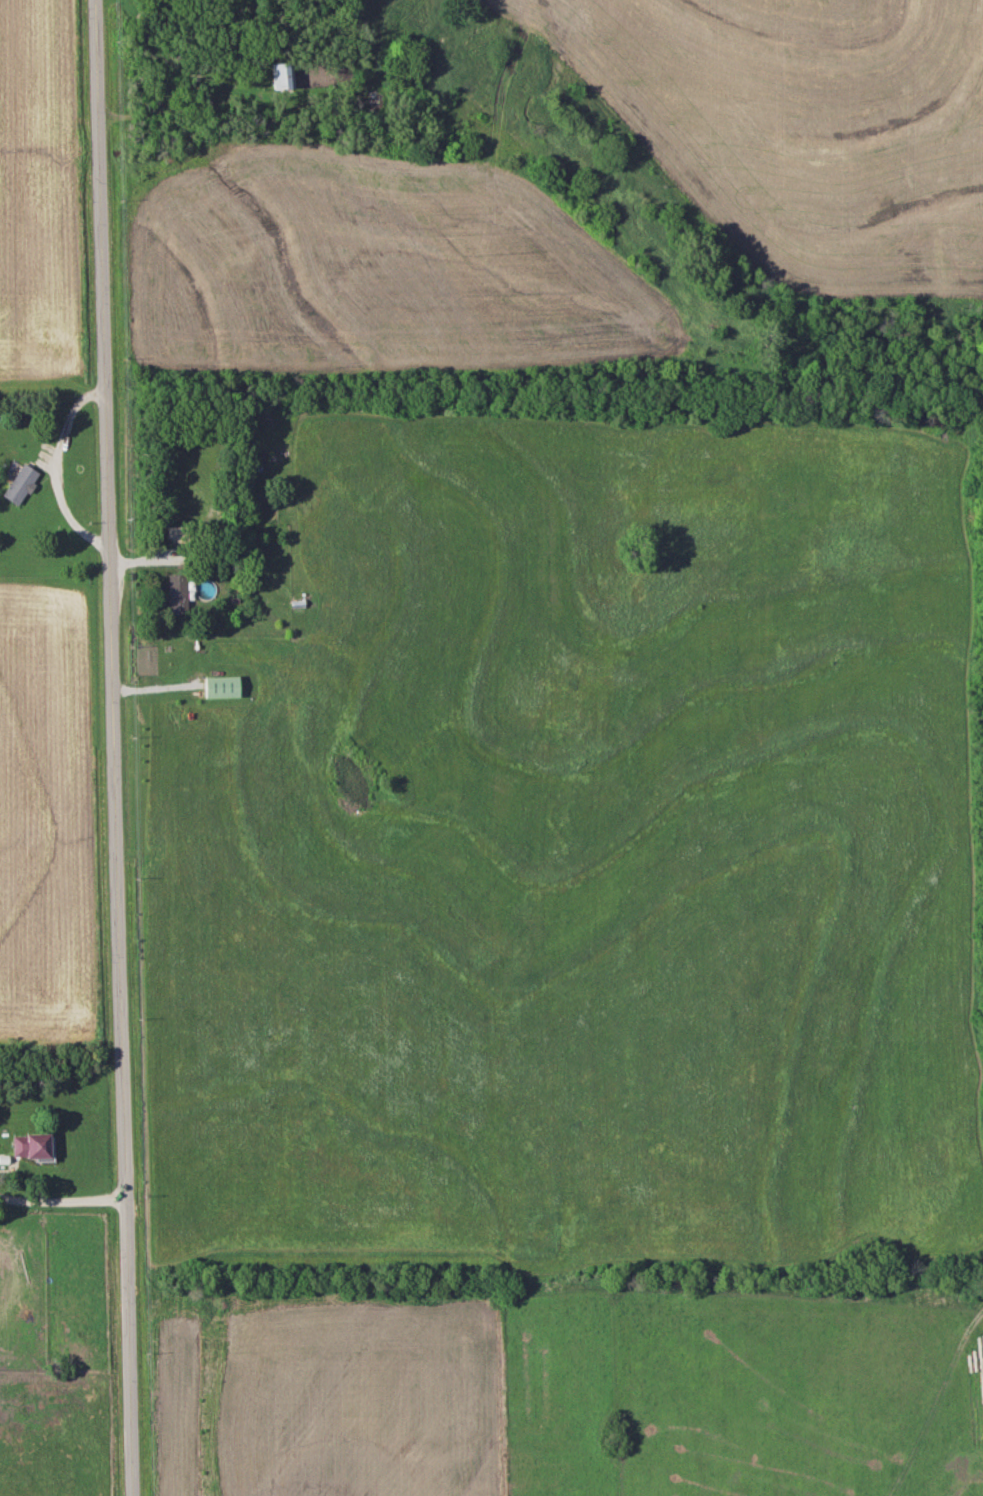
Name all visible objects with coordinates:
road: (55, 469)
building: (20, 486)
building: (176, 594)
road: (114, 747)
building: (27, 1147)
road: (62, 1202)

